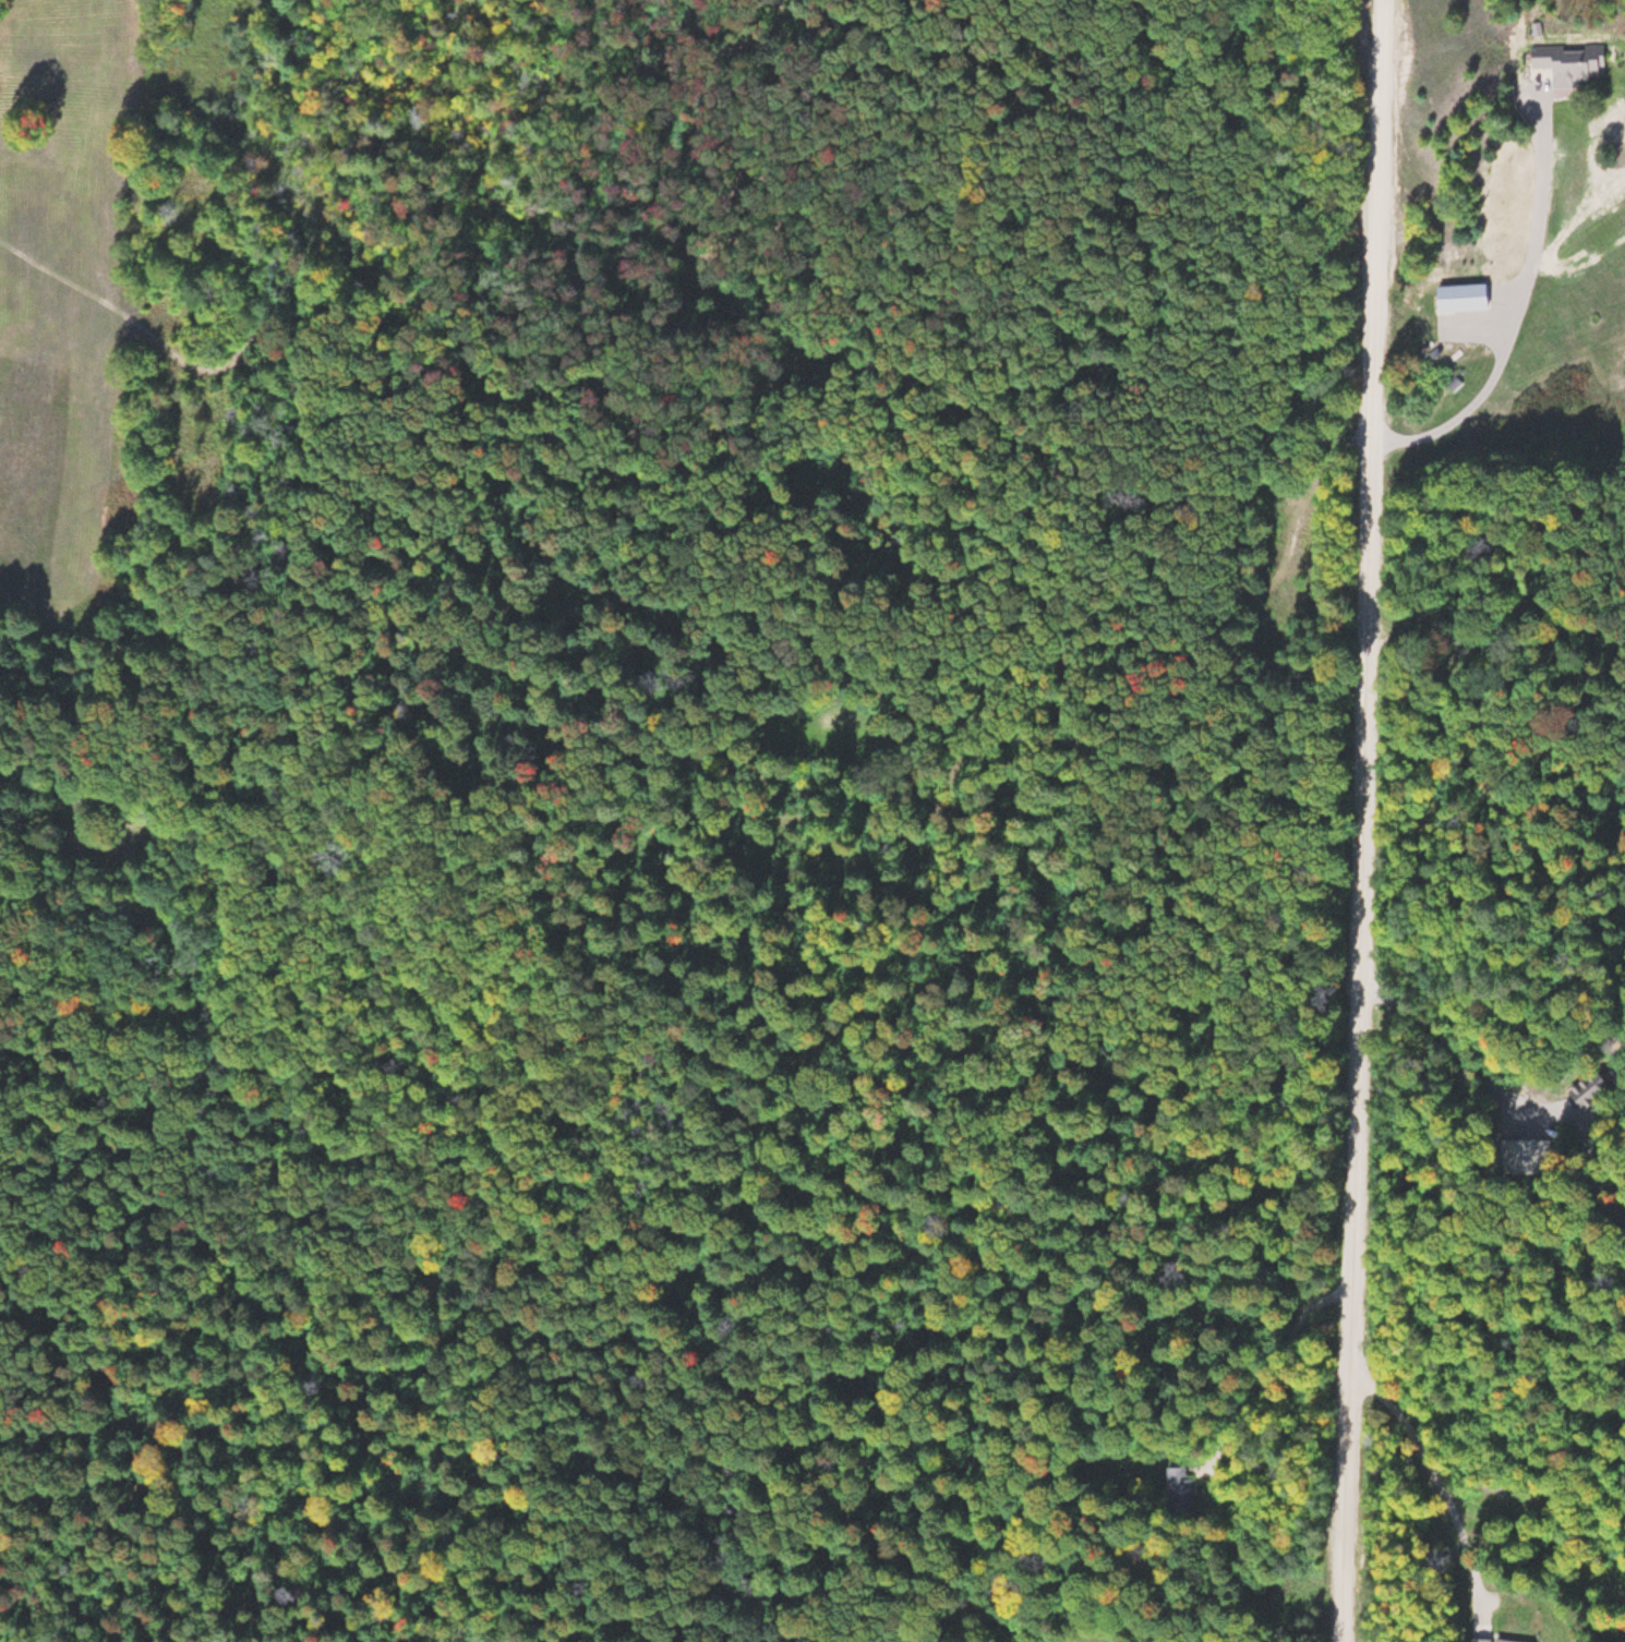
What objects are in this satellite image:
building: (1572, 60)
road: (1372, 821)
road: (1229, 1418)
building: (1182, 1488)
building: (1500, 1640)

